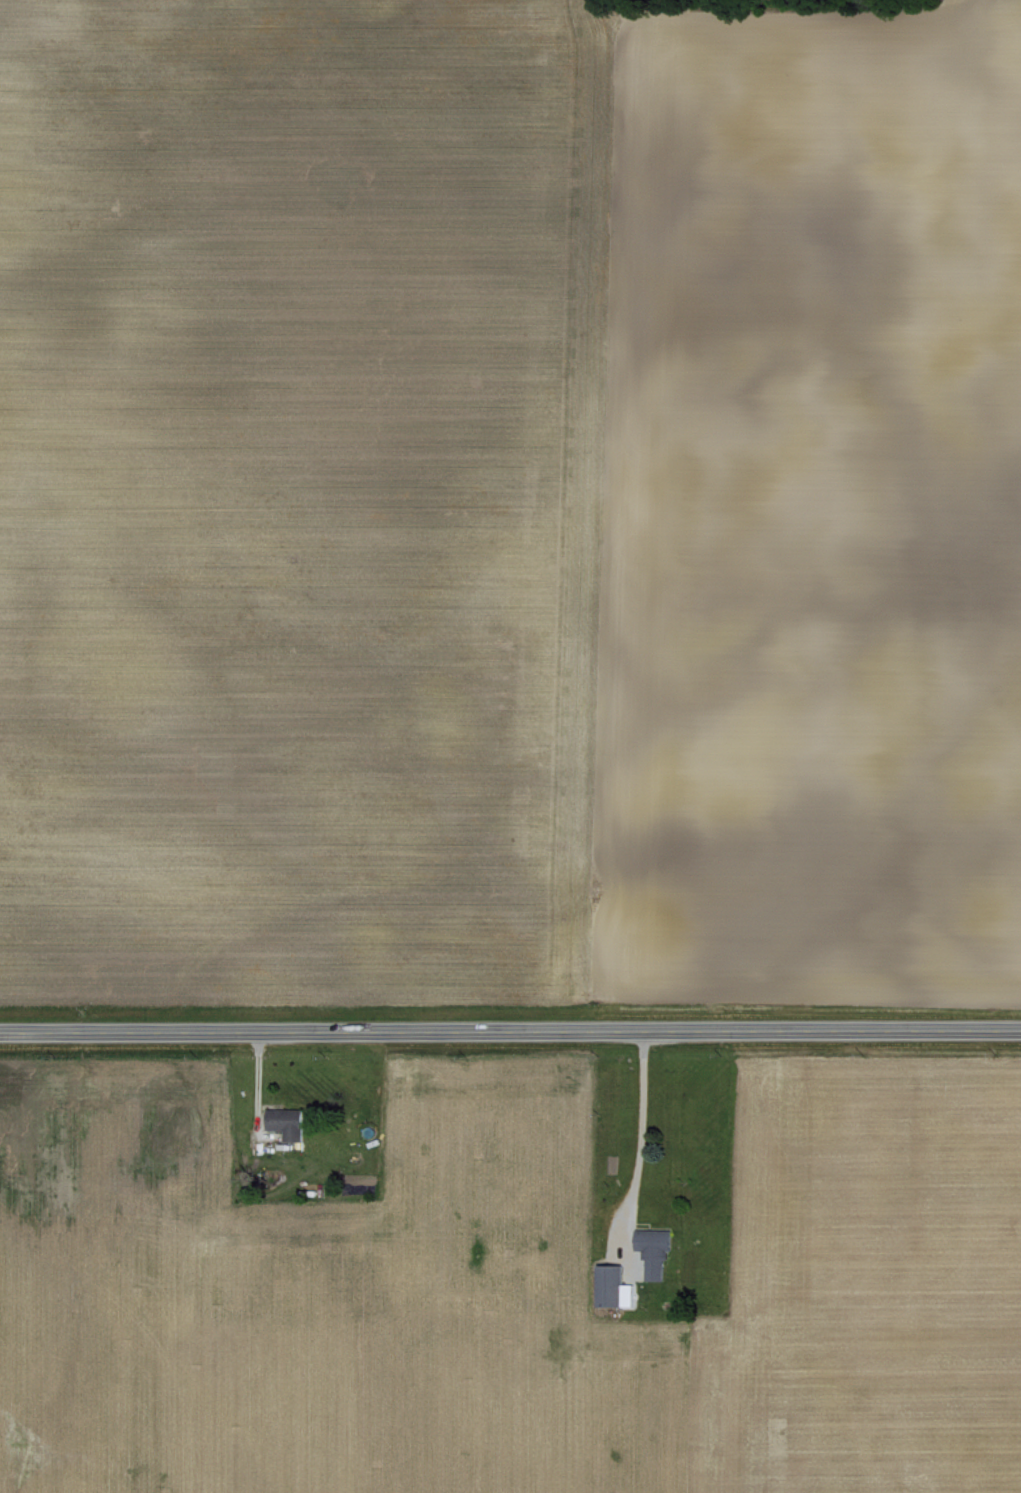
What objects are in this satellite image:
road: (510, 1032)
road: (255, 1093)
road: (639, 1124)
building: (650, 1250)
building: (618, 1278)
road: (37, 1445)

